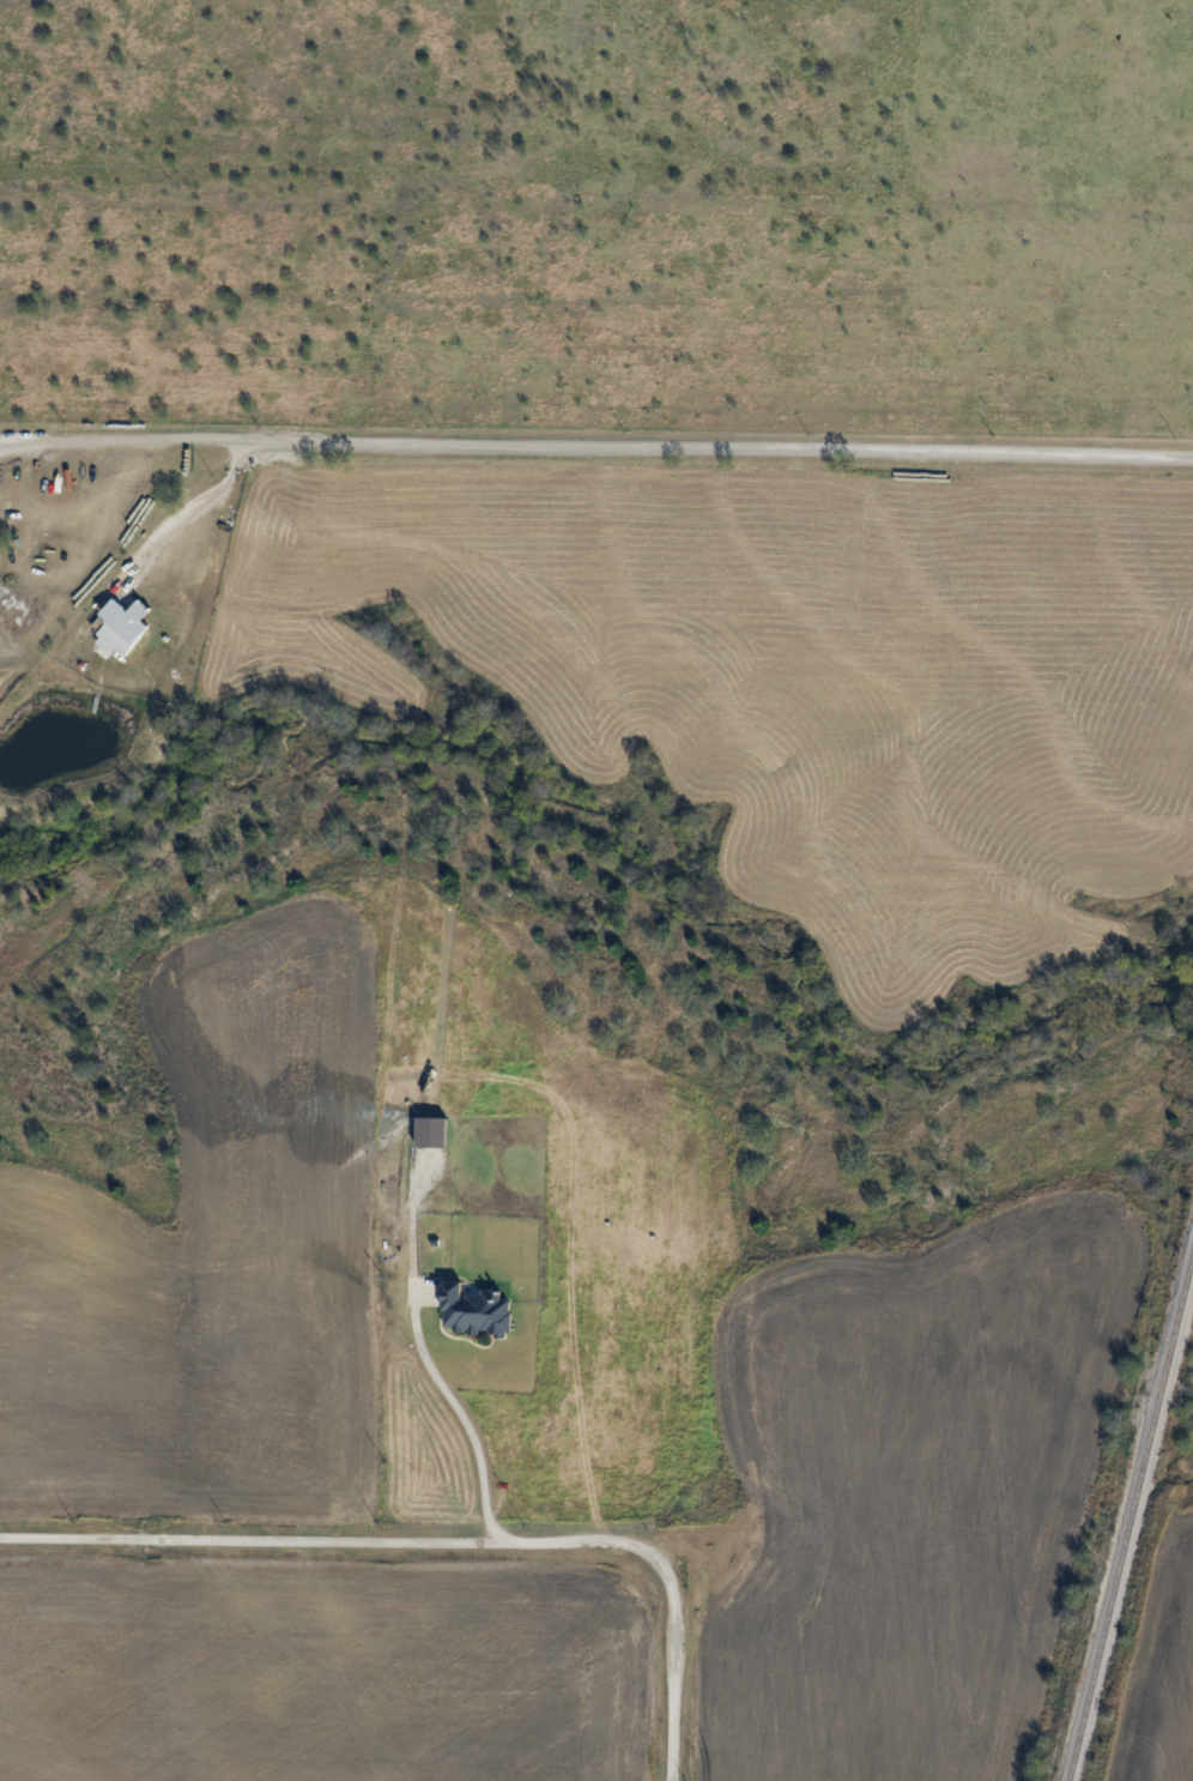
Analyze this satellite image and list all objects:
road: (25, 442)
road: (622, 448)
road: (180, 509)
building: (476, 1310)
road: (454, 1408)
railway: (1131, 1517)
road: (447, 1540)
crop: (1167, 1673)

